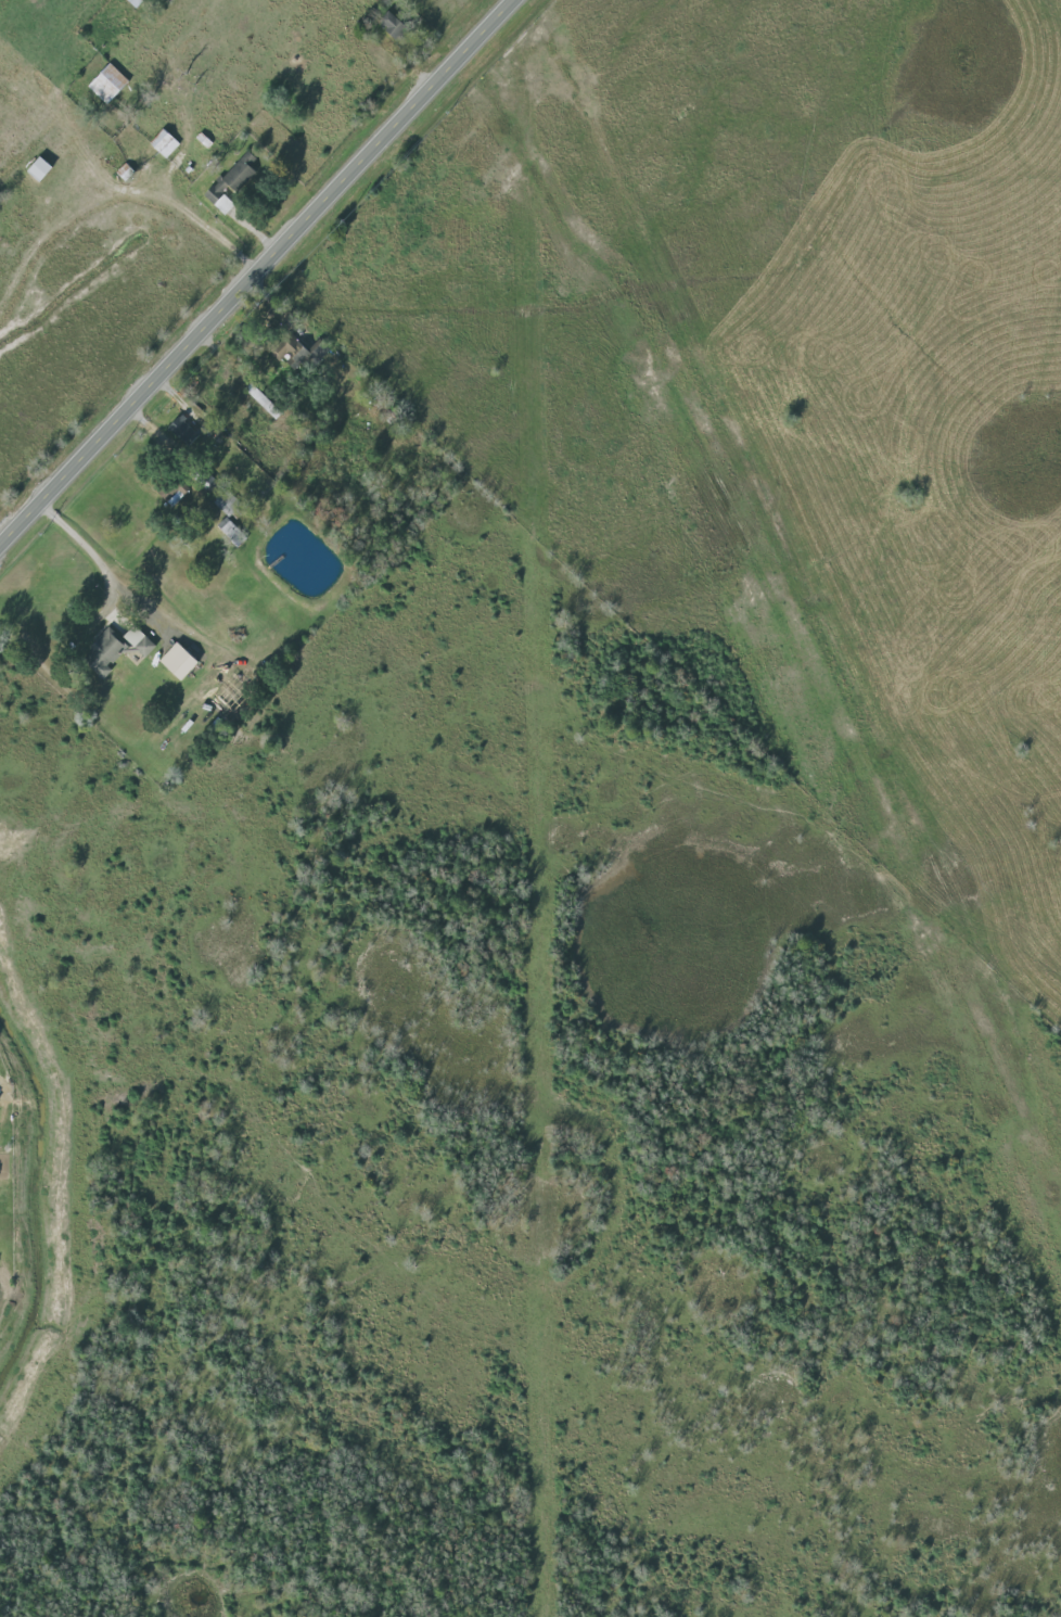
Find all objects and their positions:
building: (395, 25)
building: (108, 84)
building: (205, 140)
building: (166, 143)
building: (42, 170)
building: (232, 184)
road: (259, 276)
building: (306, 353)
building: (184, 431)
building: (177, 493)
building: (227, 505)
building: (229, 526)
road: (84, 542)
building: (141, 640)
building: (106, 651)
building: (181, 660)

